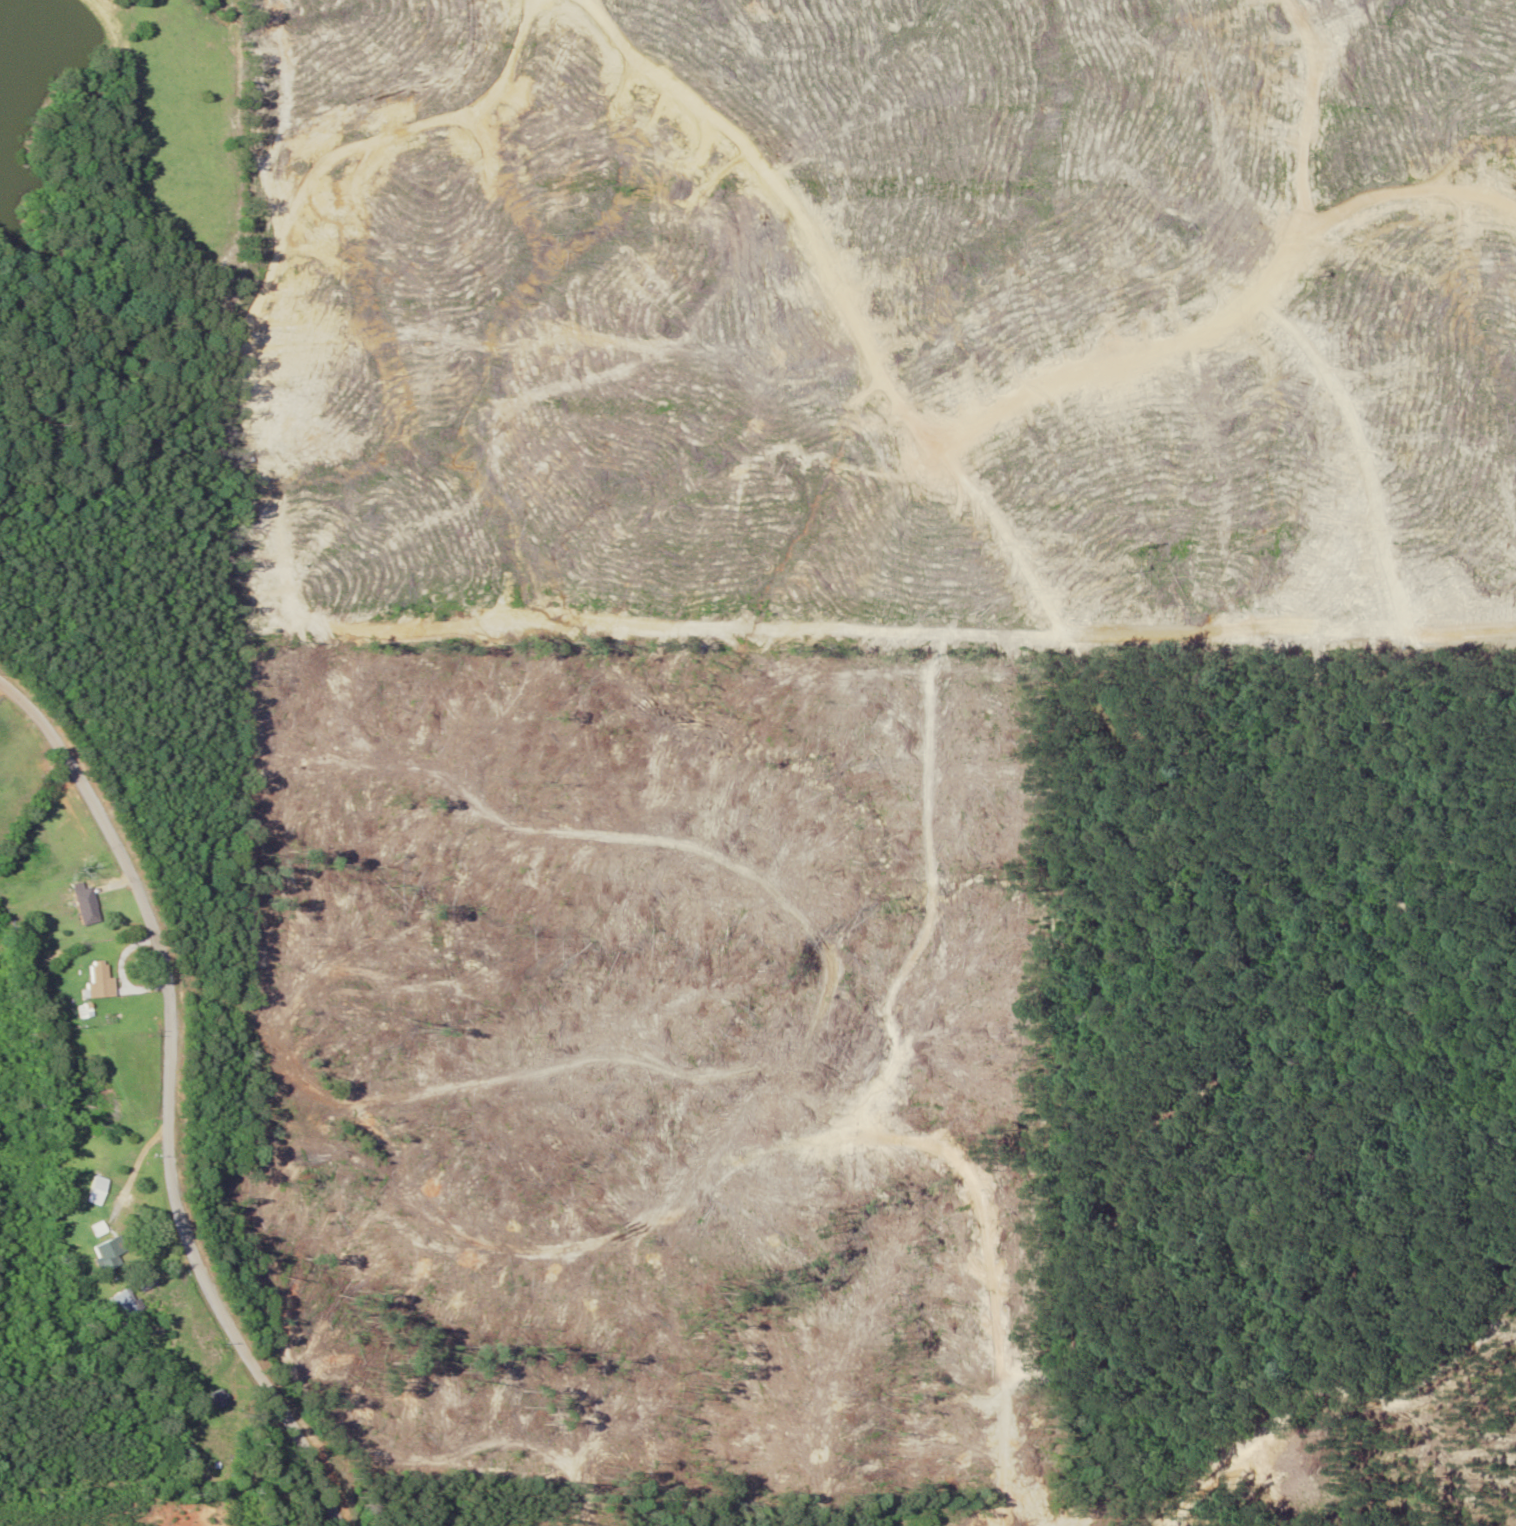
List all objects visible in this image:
building: (74, 907)
building: (86, 977)
road: (141, 1134)
building: (82, 1191)
building: (82, 1230)
building: (92, 1256)
building: (113, 1311)
building: (210, 1397)
building: (203, 1443)

